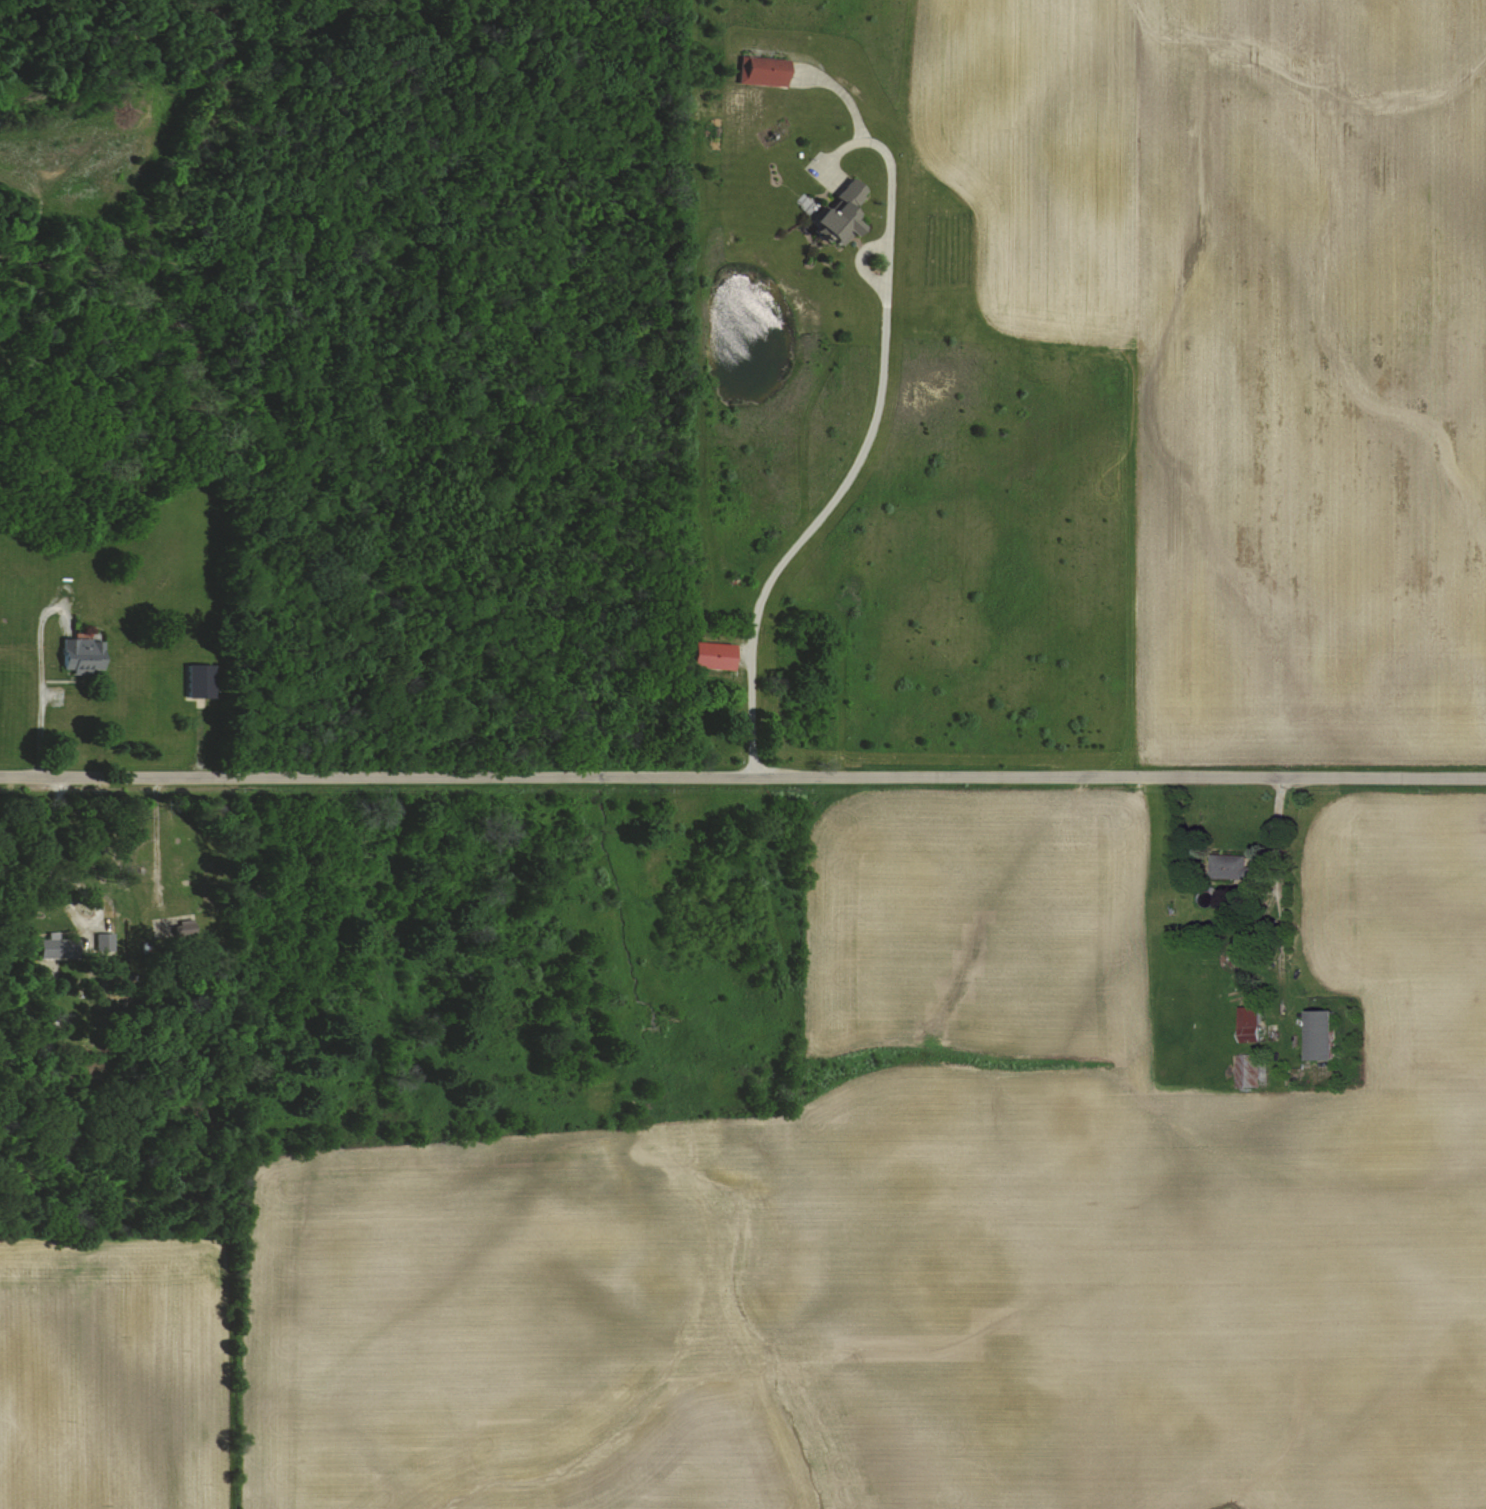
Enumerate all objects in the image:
building: (768, 72)
building: (849, 215)
road: (851, 465)
building: (88, 654)
building: (719, 655)
building: (203, 680)
road: (37, 682)
road: (742, 776)
road: (153, 835)
road: (45, 853)
building: (1235, 864)
road: (1283, 886)
building: (63, 949)
building: (1258, 1023)
building: (1332, 1034)
building: (1253, 1071)

